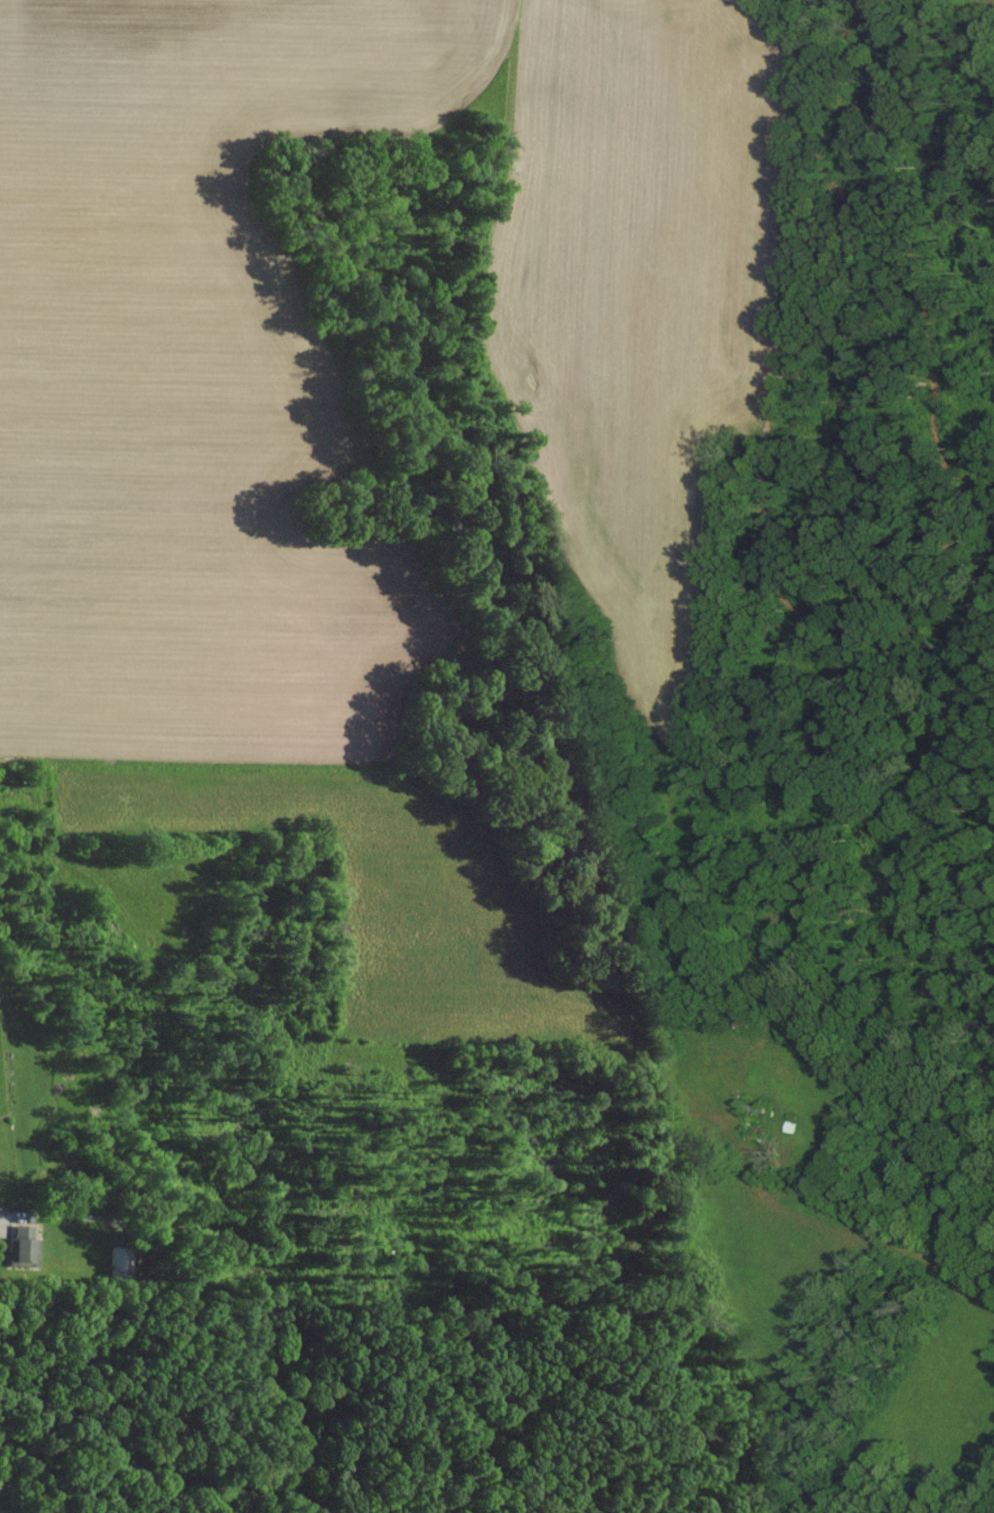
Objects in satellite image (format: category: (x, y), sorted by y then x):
road: (23, 1203)
building: (116, 1260)

